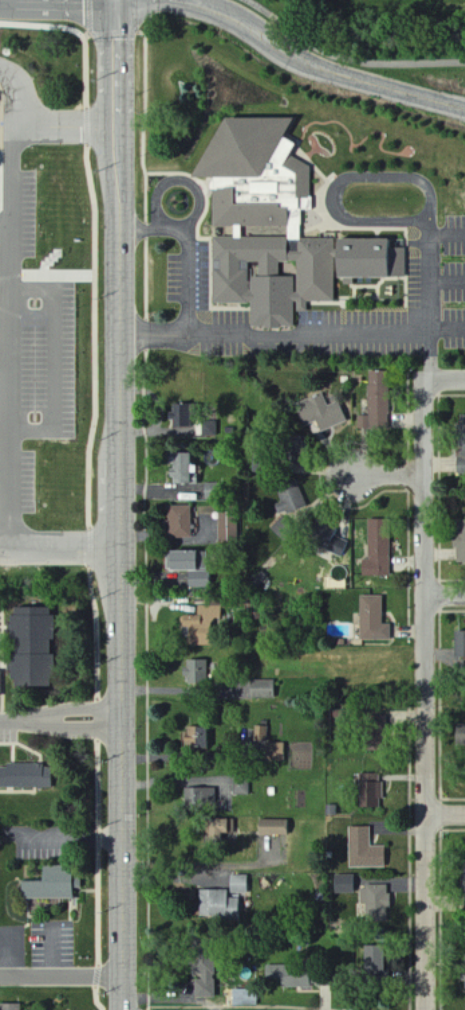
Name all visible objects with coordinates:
road: (64, 29)
road: (137, 32)
road: (303, 59)
road: (348, 59)
road: (115, 64)
road: (67, 125)
road: (345, 180)
road: (180, 217)
building: (277, 228)
road: (150, 229)
road: (449, 235)
road: (433, 274)
road: (191, 280)
road: (449, 281)
road: (121, 291)
road: (17, 304)
road: (293, 333)
road: (433, 356)
road: (57, 361)
road: (446, 382)
building: (377, 402)
building: (321, 413)
building: (176, 416)
building: (461, 445)
building: (180, 468)
road: (391, 474)
building: (292, 499)
road: (120, 502)
building: (179, 522)
road: (91, 525)
building: (228, 528)
building: (329, 540)
building: (460, 547)
building: (378, 549)
road: (59, 550)
building: (180, 561)
building: (199, 580)
road: (446, 595)
building: (373, 619)
building: (203, 626)
building: (459, 645)
building: (28, 648)
building: (196, 672)
building: (0, 683)
building: (262, 689)
road: (426, 696)
road: (72, 709)
road: (12, 721)
road: (73, 729)
building: (460, 735)
building: (194, 739)
building: (270, 746)
building: (25, 776)
road: (123, 779)
building: (242, 788)
building: (370, 791)
building: (200, 798)
road: (445, 814)
building: (273, 828)
building: (221, 829)
road: (73, 836)
building: (365, 850)
road: (198, 861)
building: (344, 884)
building: (52, 885)
building: (238, 885)
building: (464, 892)
building: (376, 903)
building: (216, 906)
building: (373, 960)
road: (61, 976)
building: (204, 986)
building: (244, 997)
building: (9, 1007)

